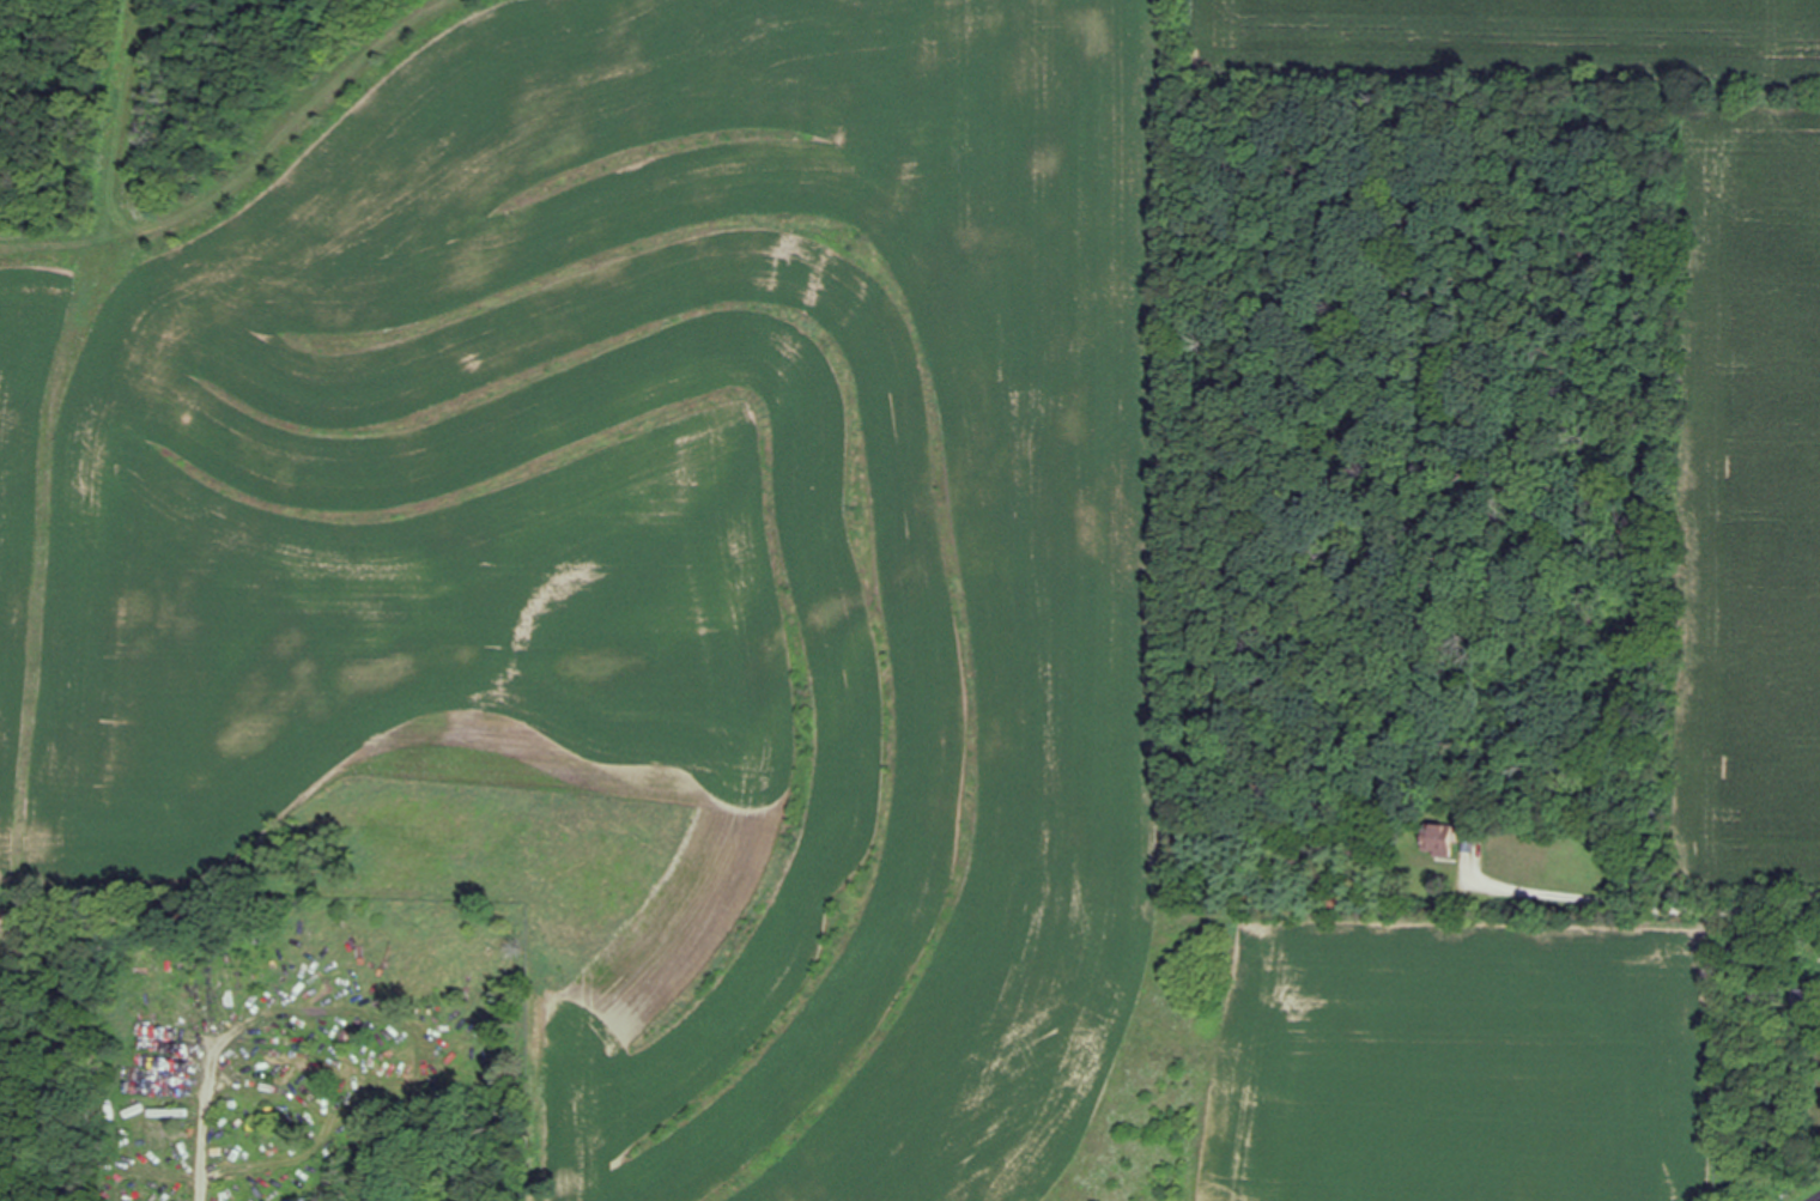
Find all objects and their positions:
building: (1440, 841)
road: (1628, 905)

